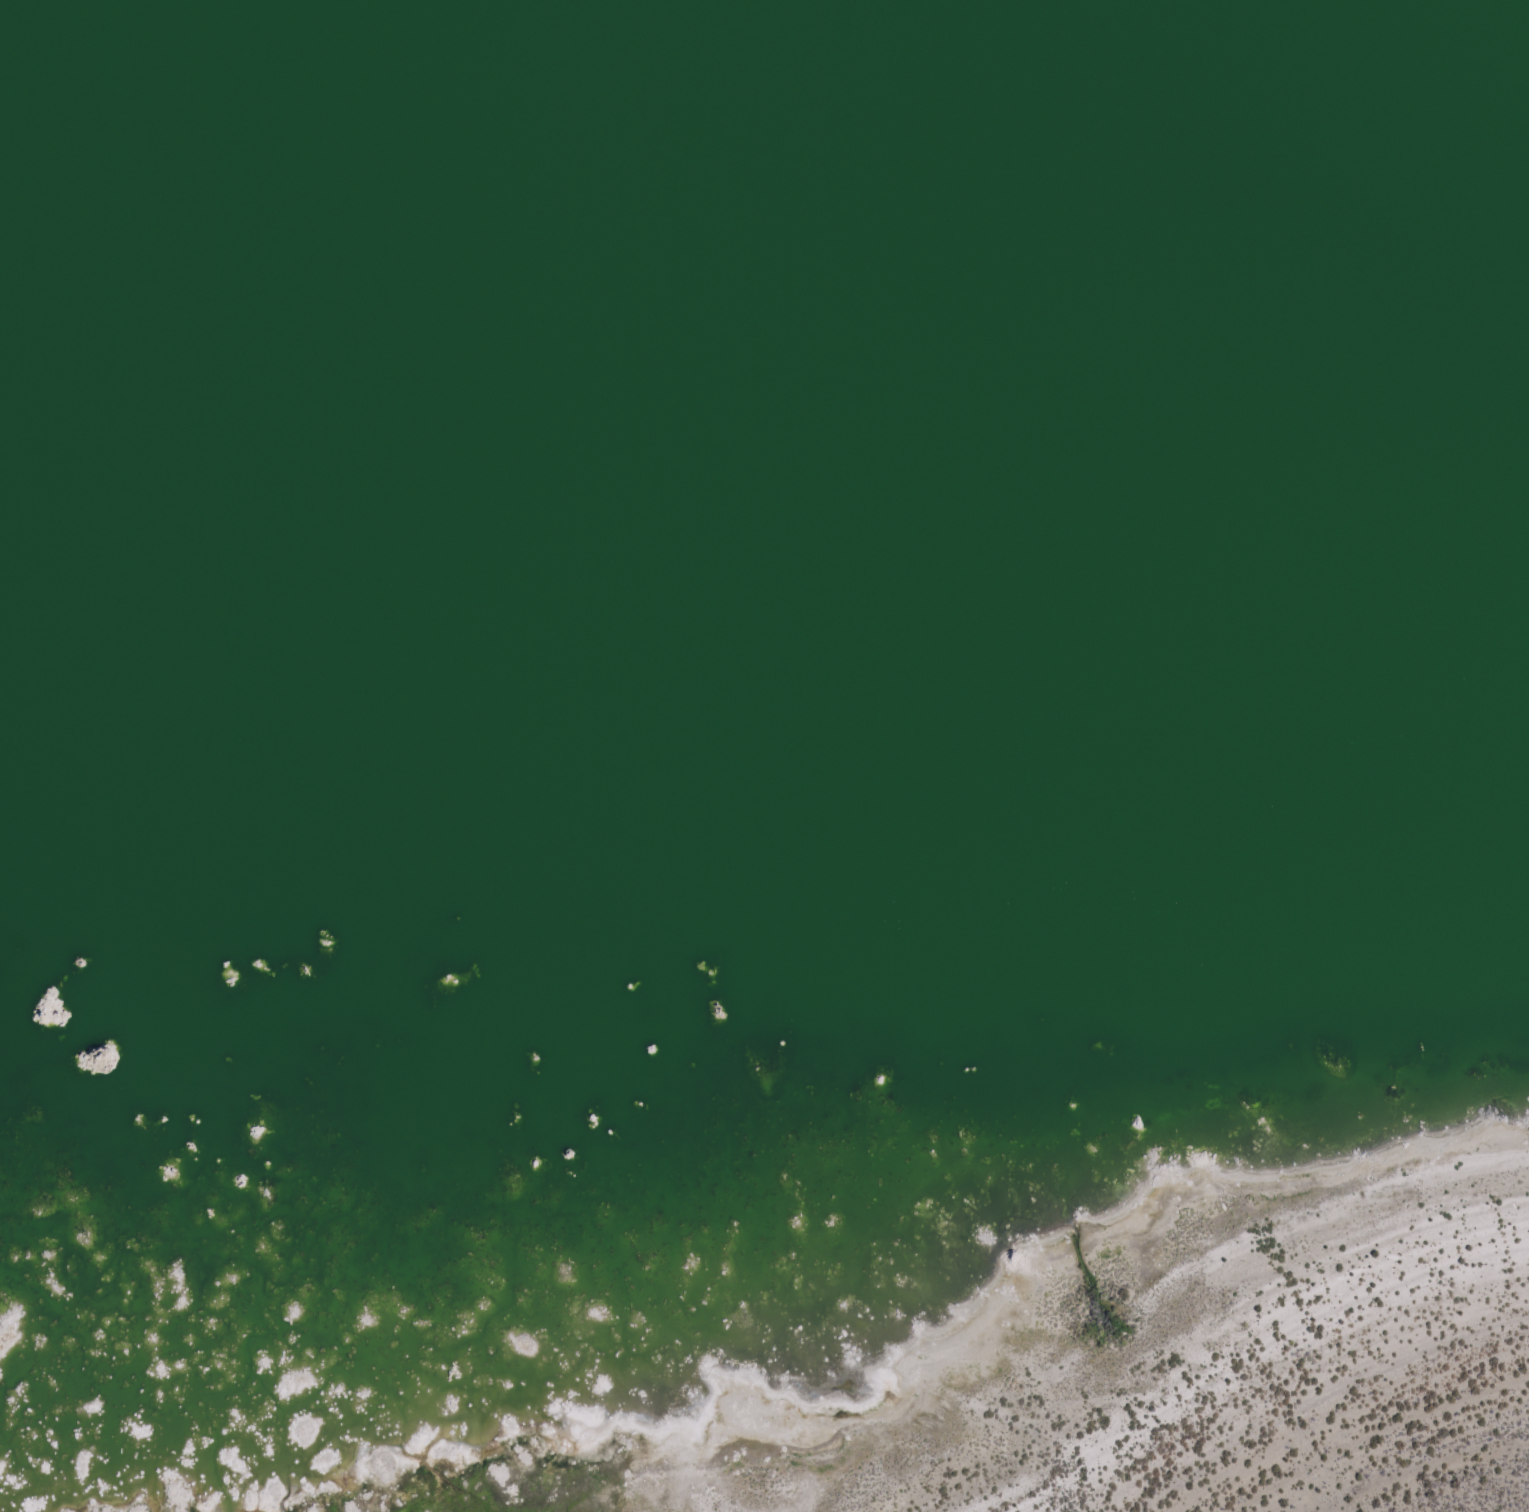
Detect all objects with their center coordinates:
road: (1339, 1508)

